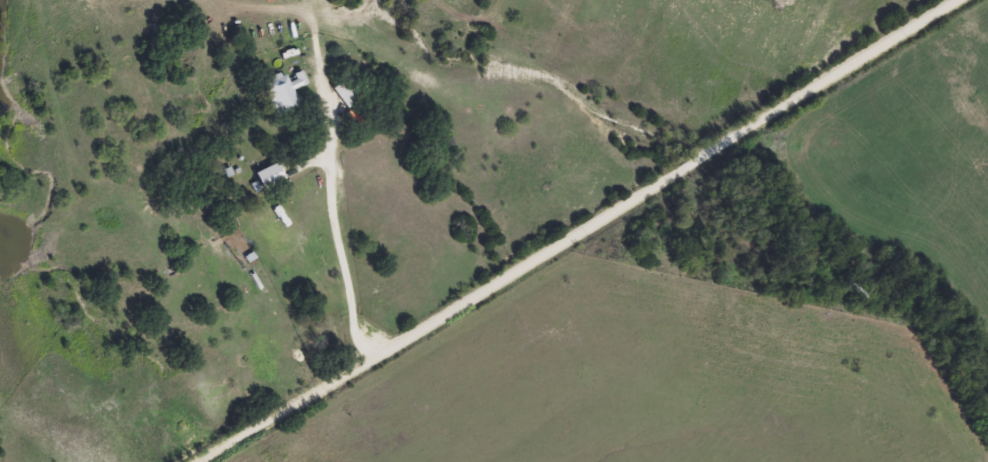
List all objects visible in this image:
building: (284, 88)
building: (349, 90)
road: (589, 232)
power tower: (846, 285)

